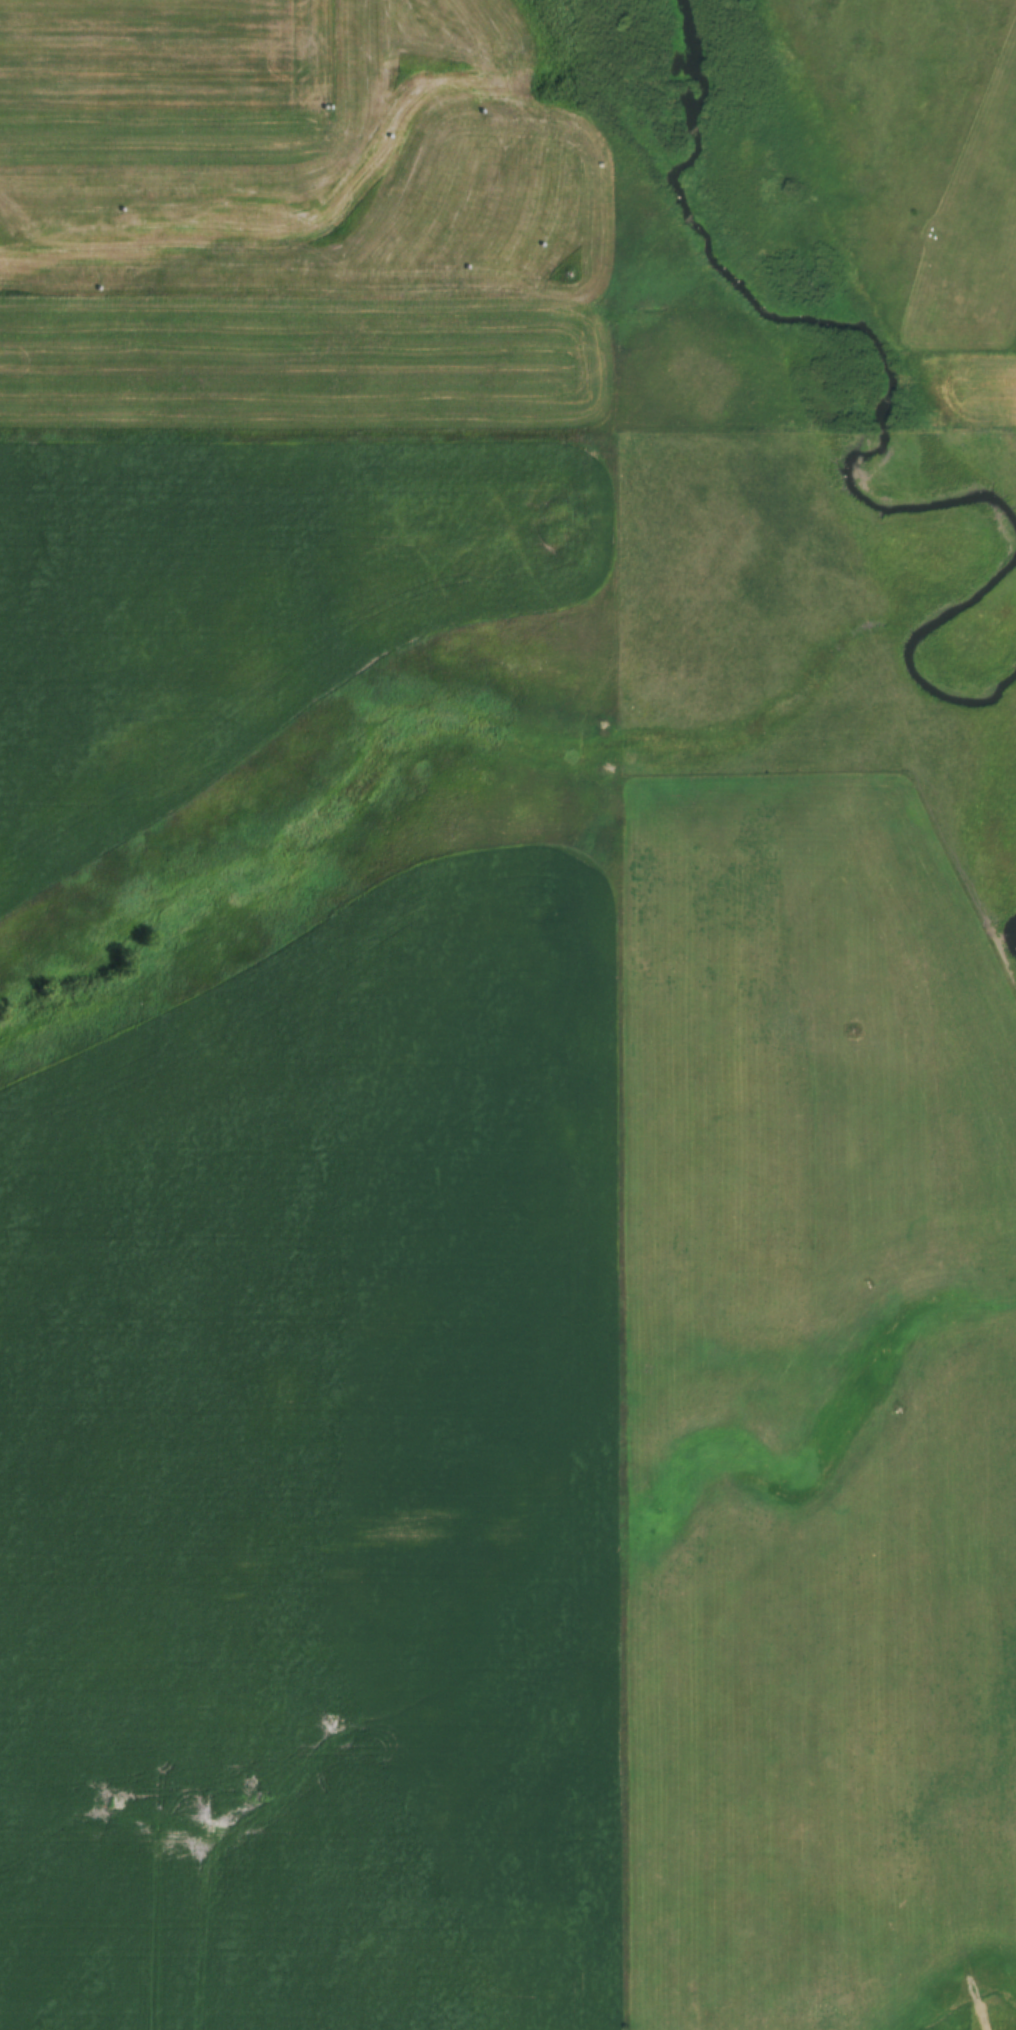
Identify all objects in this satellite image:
airport: (810, 207)
airport runway: (984, 254)

